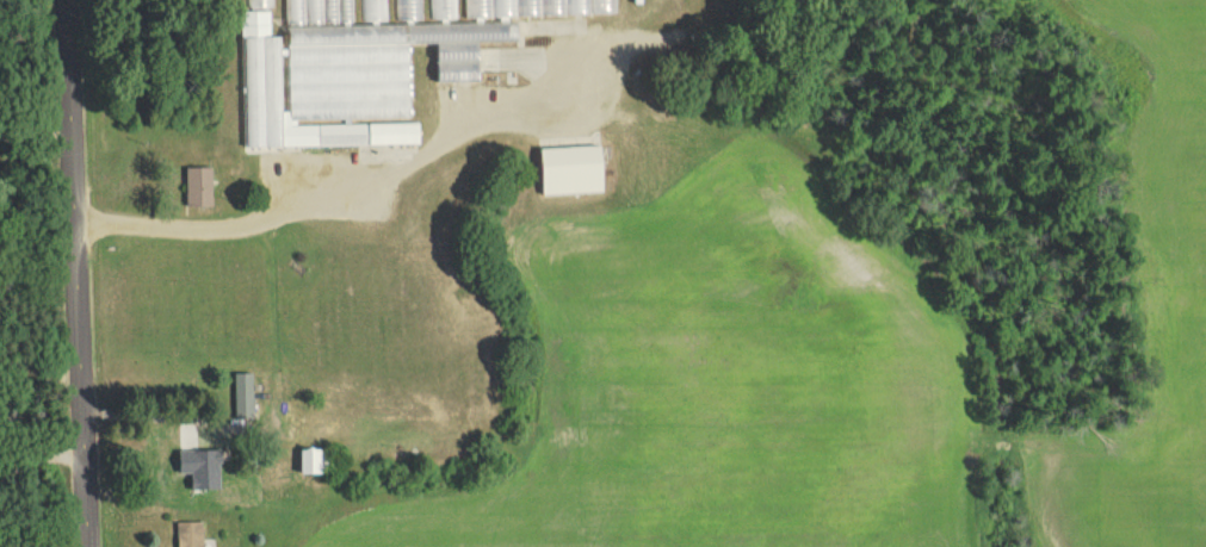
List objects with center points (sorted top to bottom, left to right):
building: (441, 8)
building: (360, 68)
road: (37, 137)
building: (568, 169)
building: (196, 186)
road: (339, 192)
road: (79, 273)
road: (41, 356)
building: (241, 394)
building: (311, 459)
building: (199, 464)
road: (43, 473)
building: (186, 533)

